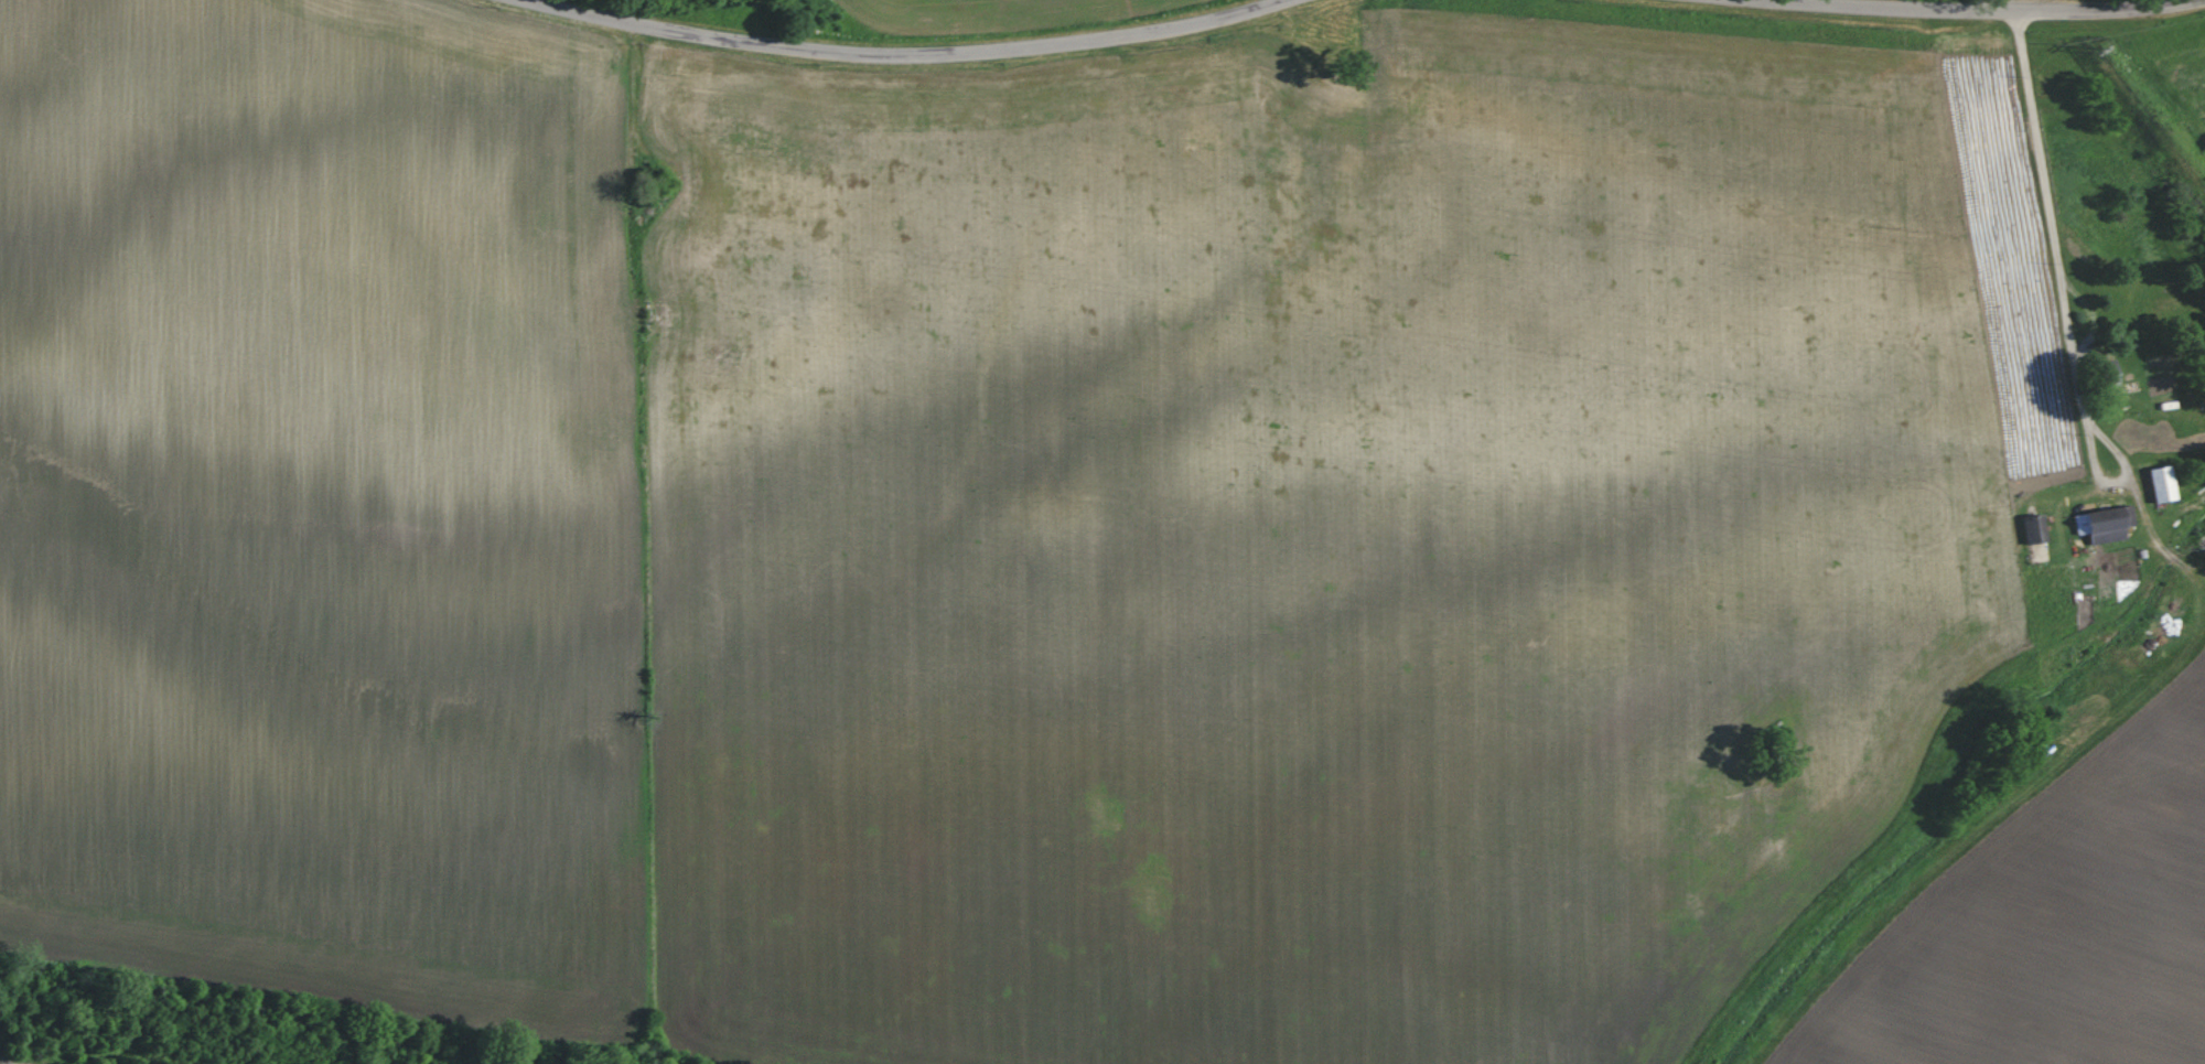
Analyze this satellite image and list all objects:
road: (1979, 2)
road: (914, 46)
road: (2043, 208)
building: (2104, 373)
road: (2104, 432)
building: (2156, 484)
building: (2100, 524)
building: (2030, 529)

